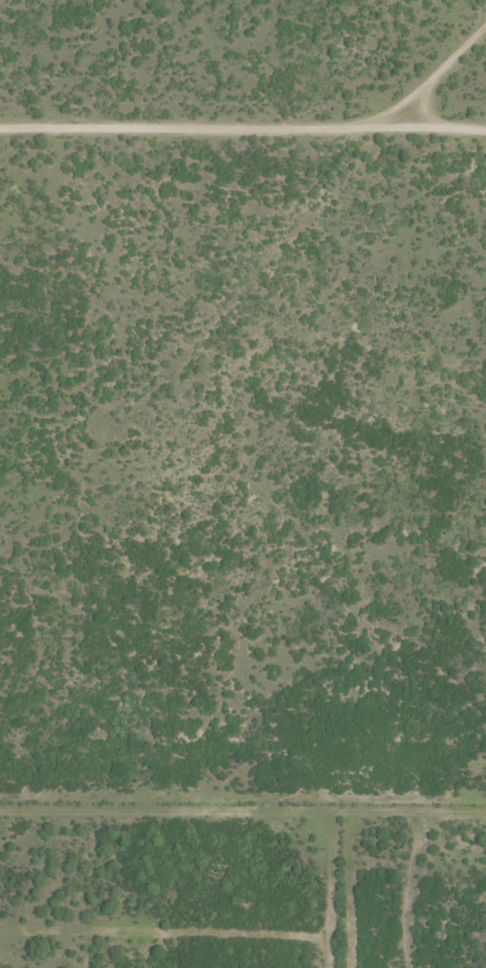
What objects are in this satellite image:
road: (242, 123)

